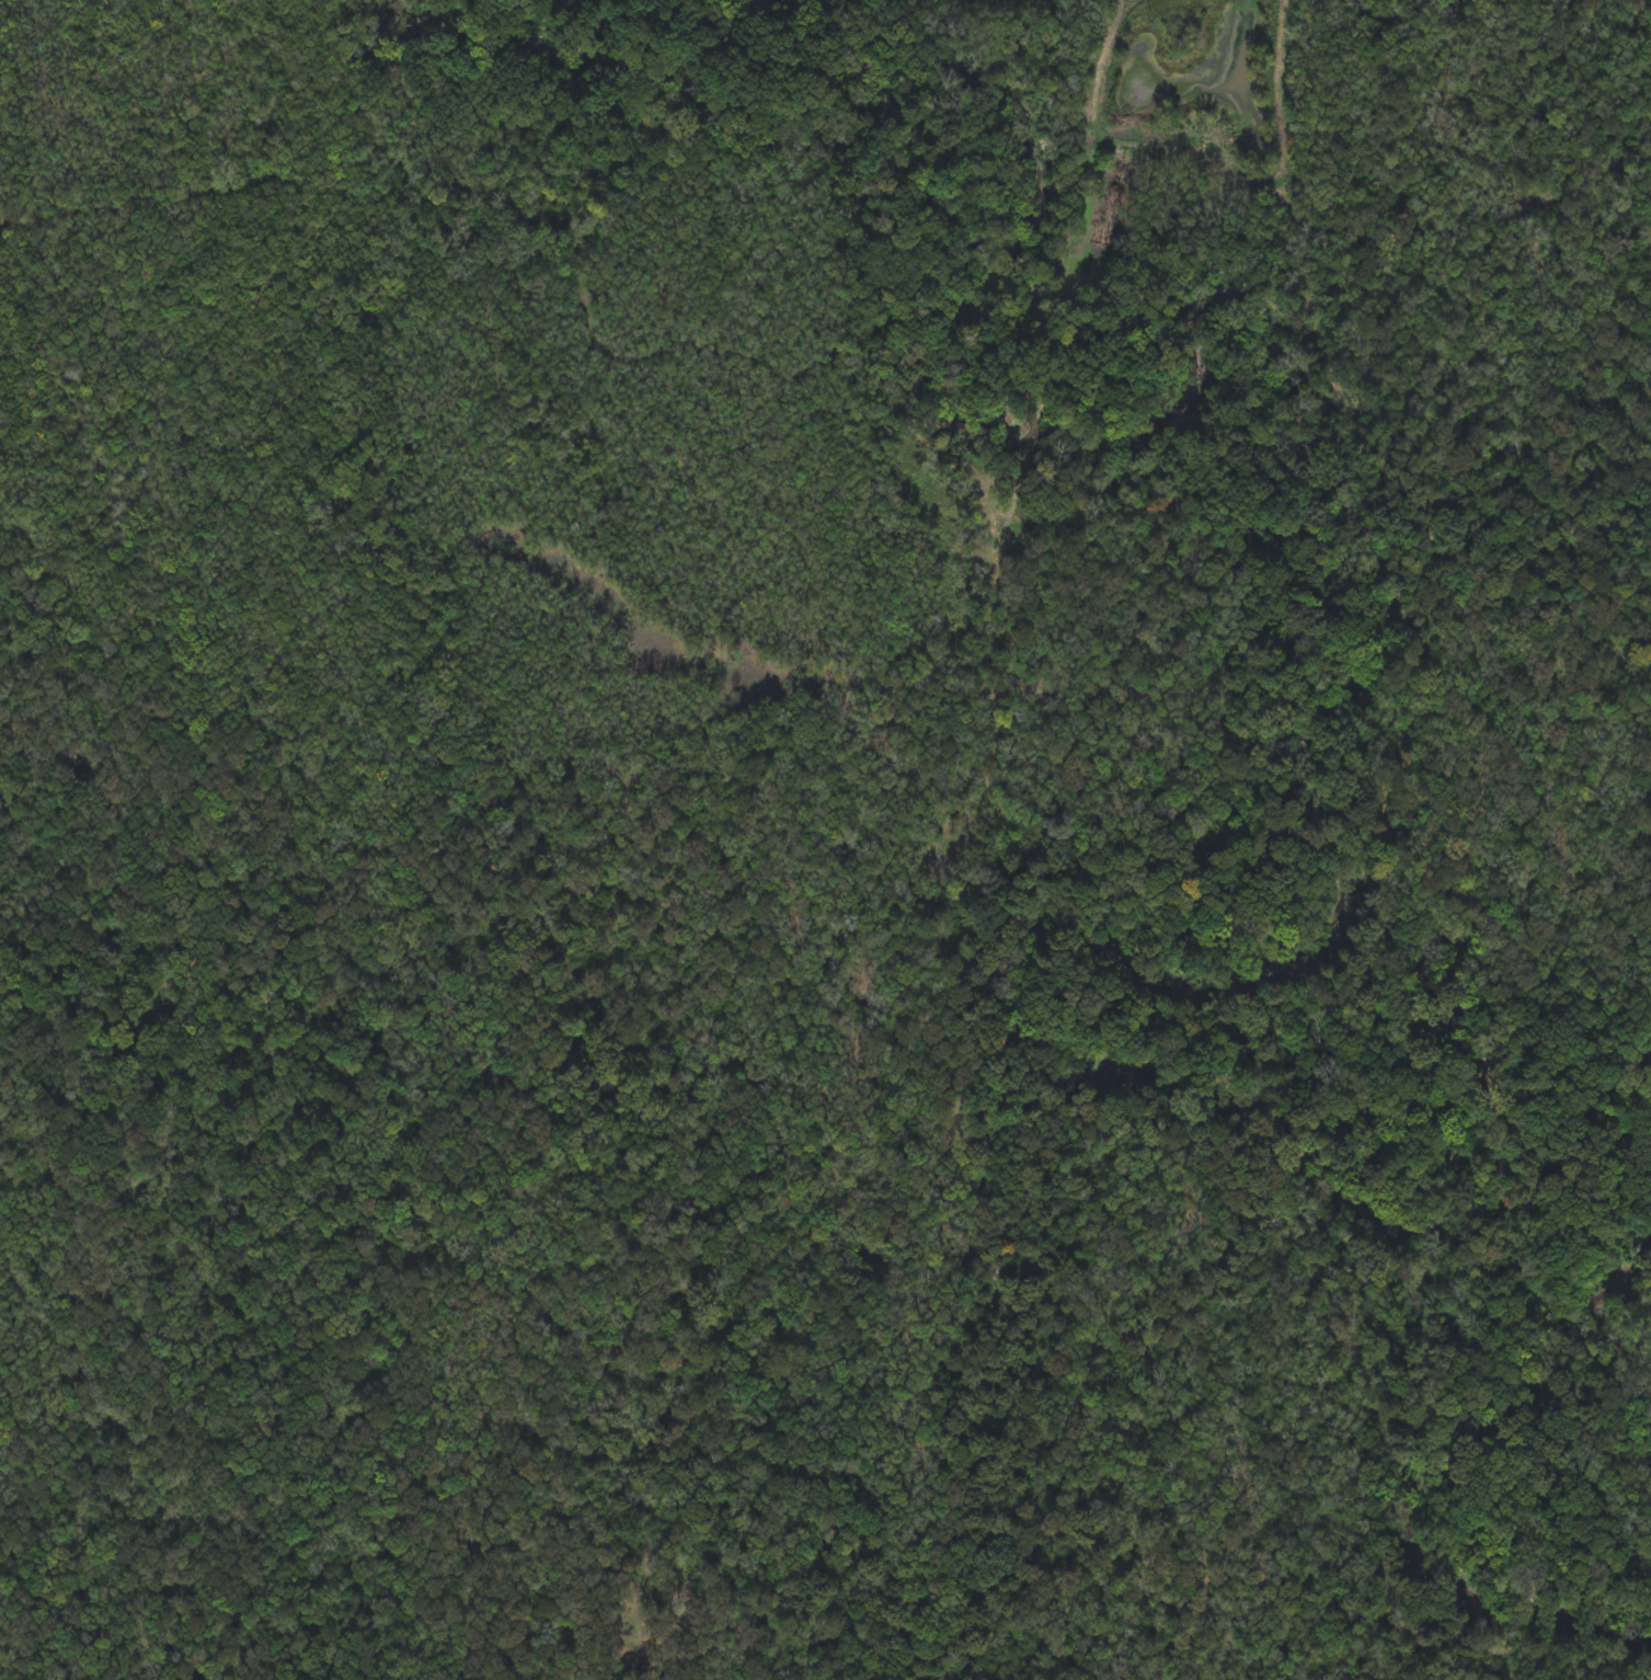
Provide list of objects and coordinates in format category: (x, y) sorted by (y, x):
river: (1406, 662)
river: (1436, 1484)

